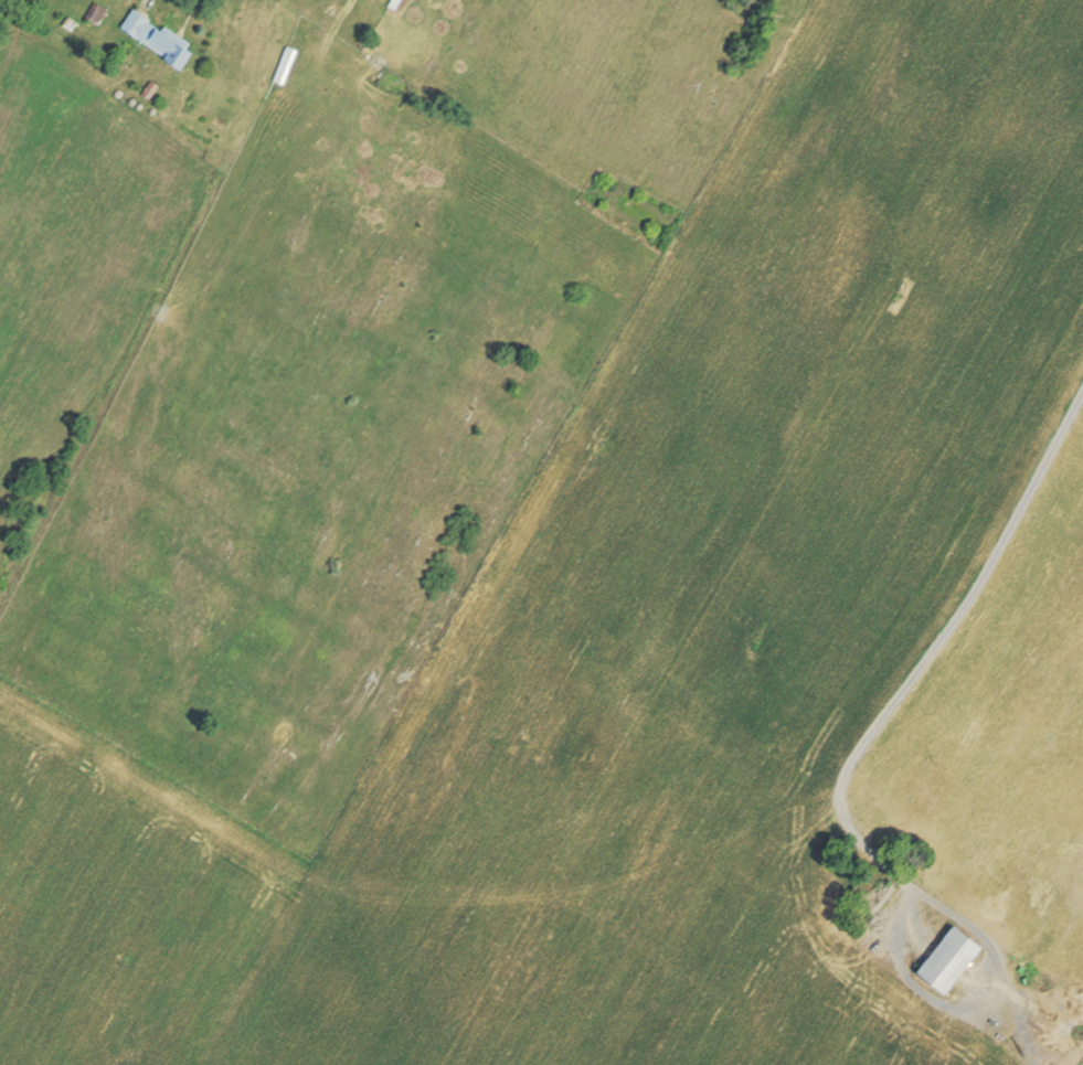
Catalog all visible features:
road: (904, 694)

